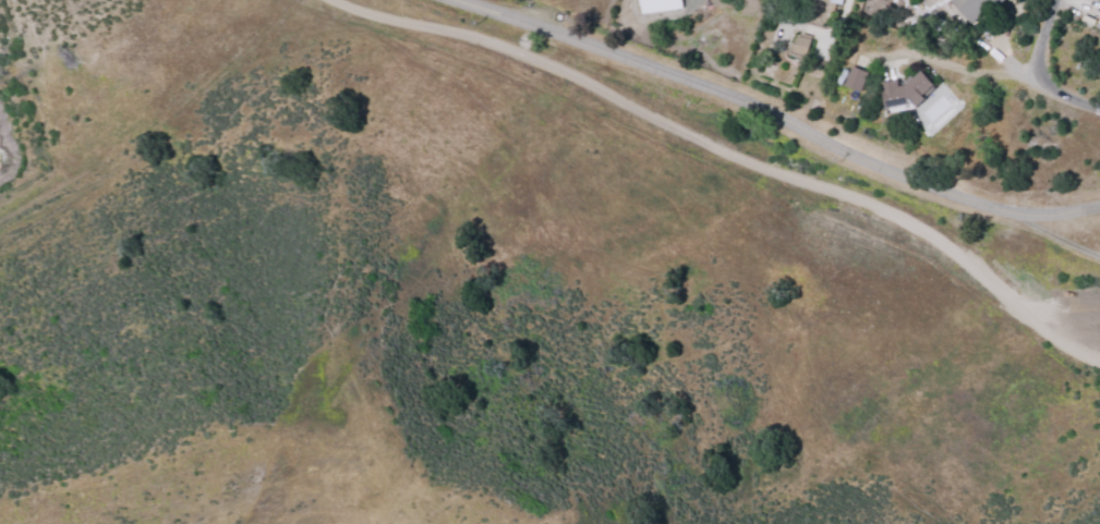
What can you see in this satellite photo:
building: (661, 5)
building: (978, 9)
building: (801, 46)
road: (1038, 73)
building: (856, 78)
building: (906, 93)
road: (781, 118)
road: (1078, 501)

